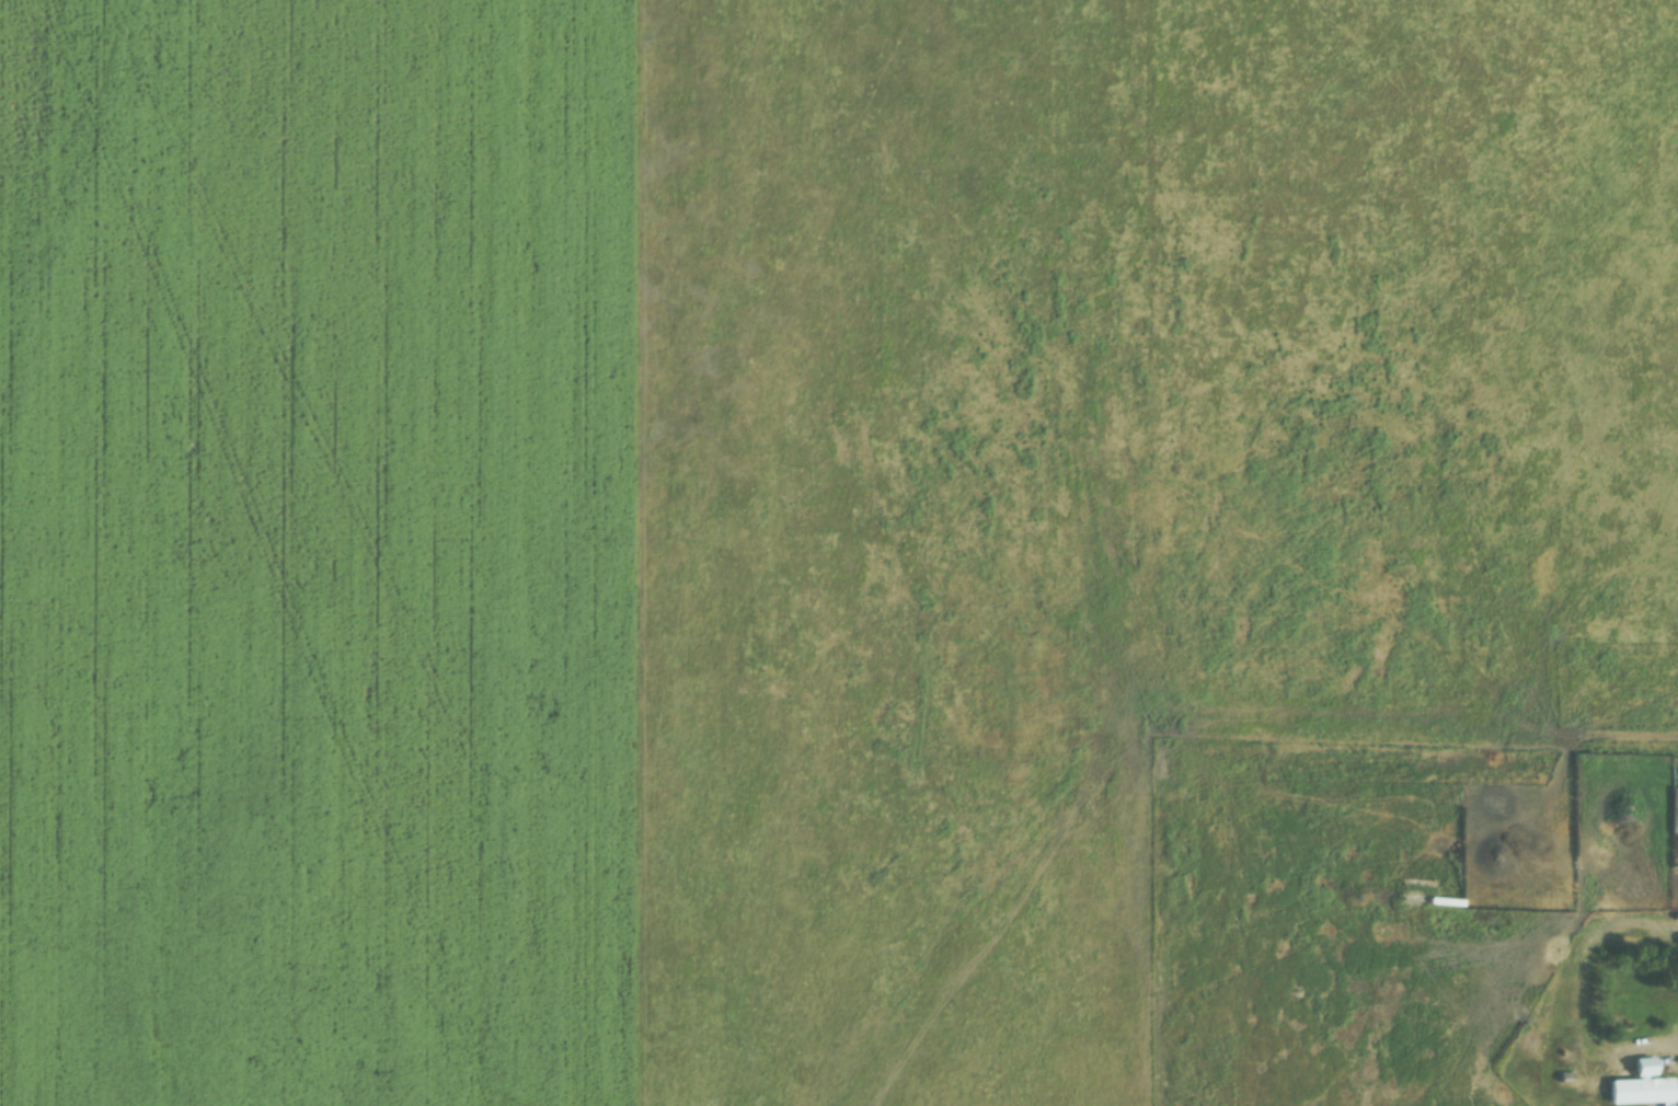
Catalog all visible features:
building: (1381, 915)
building: (1640, 1092)

